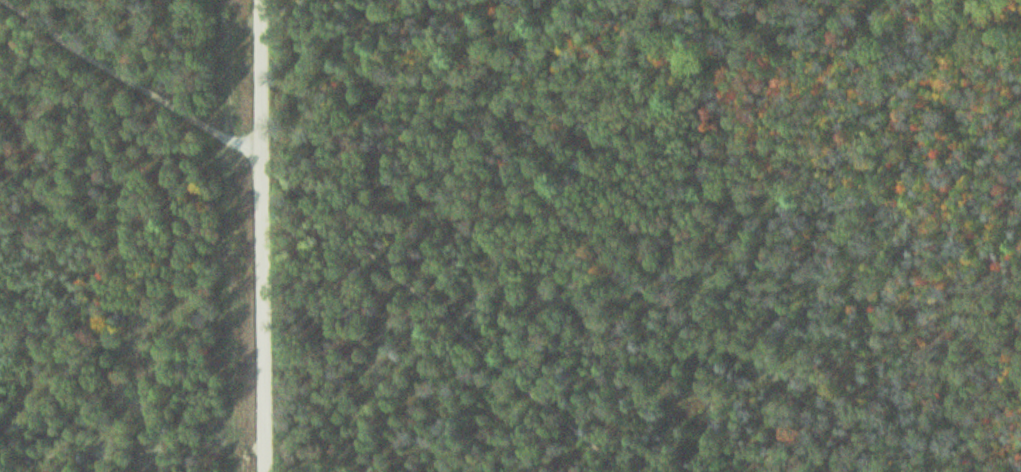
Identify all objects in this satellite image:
road: (141, 76)
road: (269, 235)

